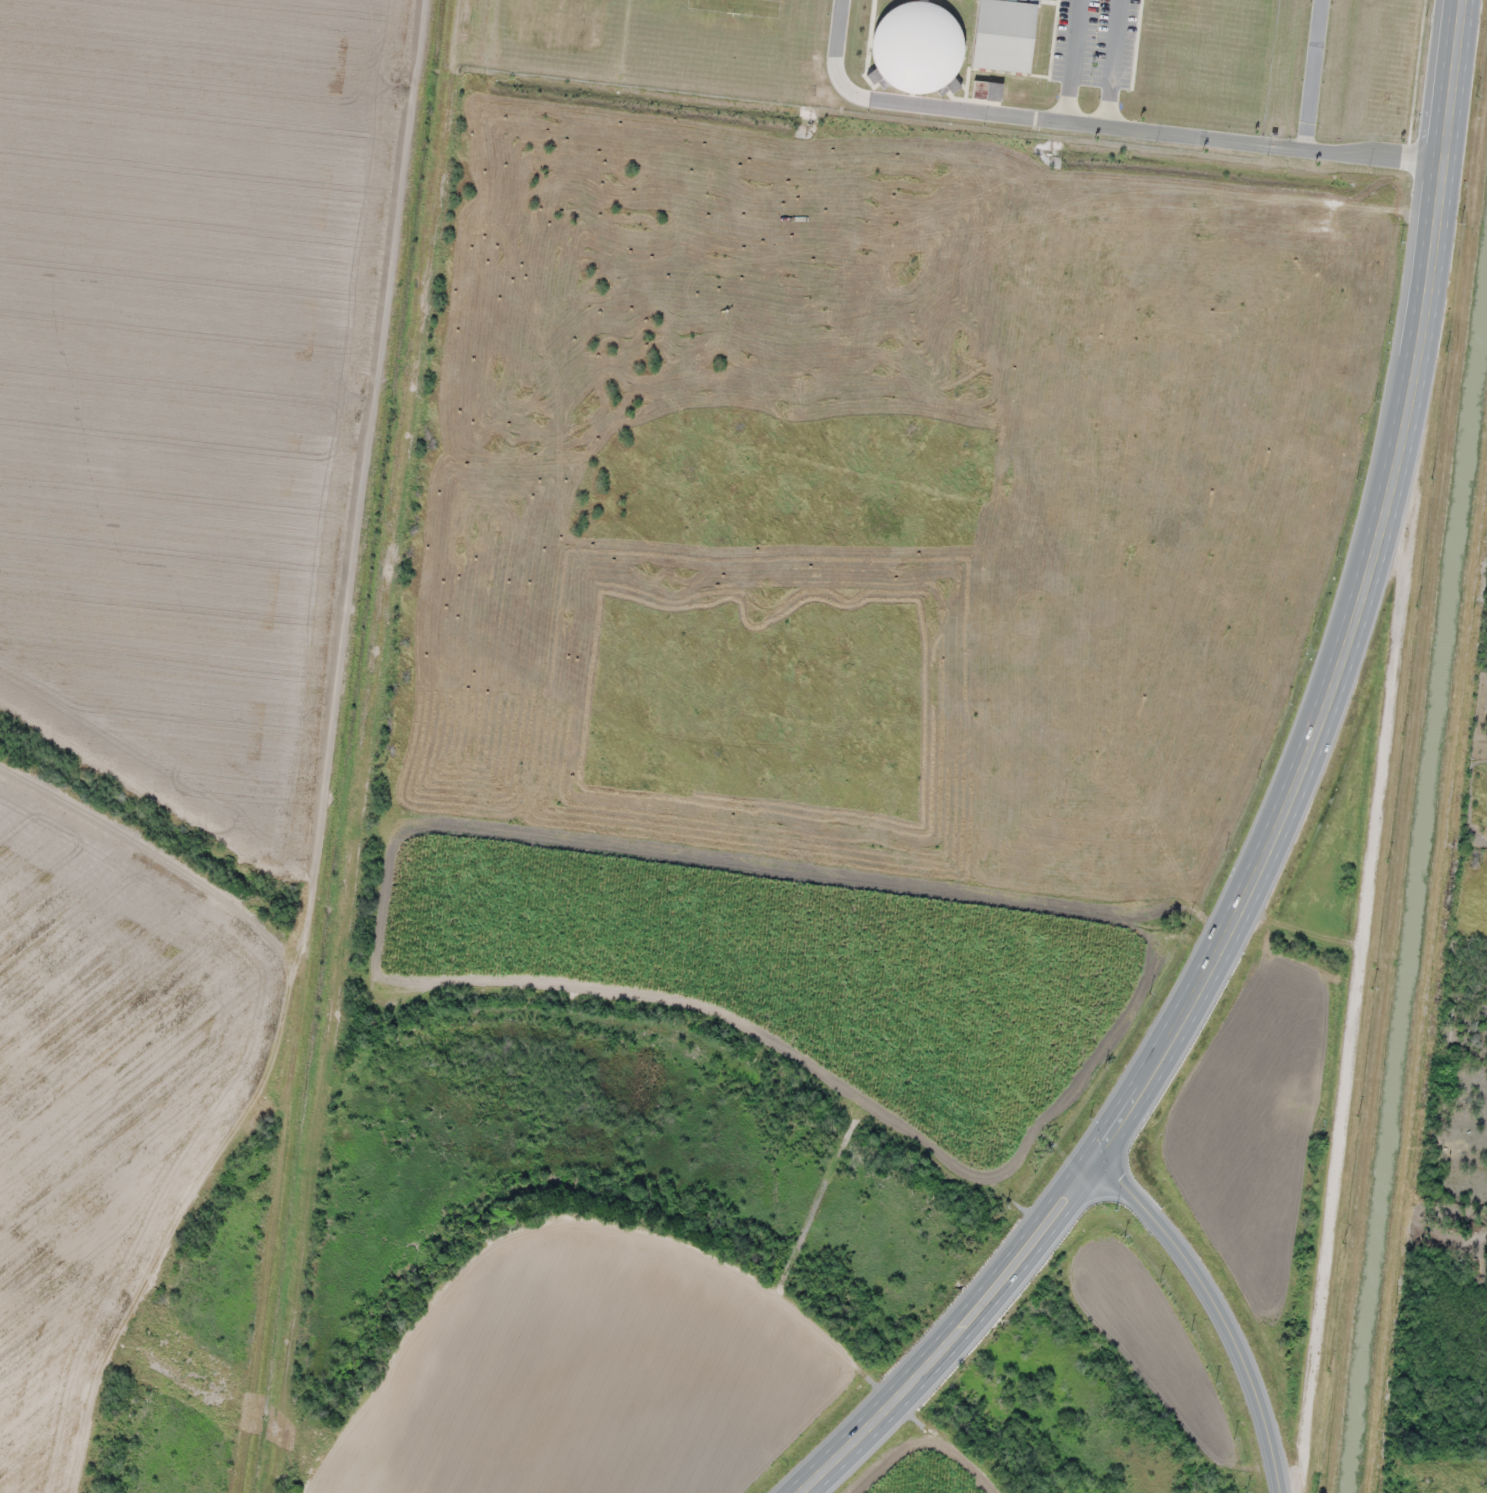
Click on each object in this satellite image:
building: (1008, 35)
road: (1067, 60)
road: (1115, 63)
road: (1312, 74)
road: (1108, 126)
road: (1276, 811)
road: (1214, 1307)

